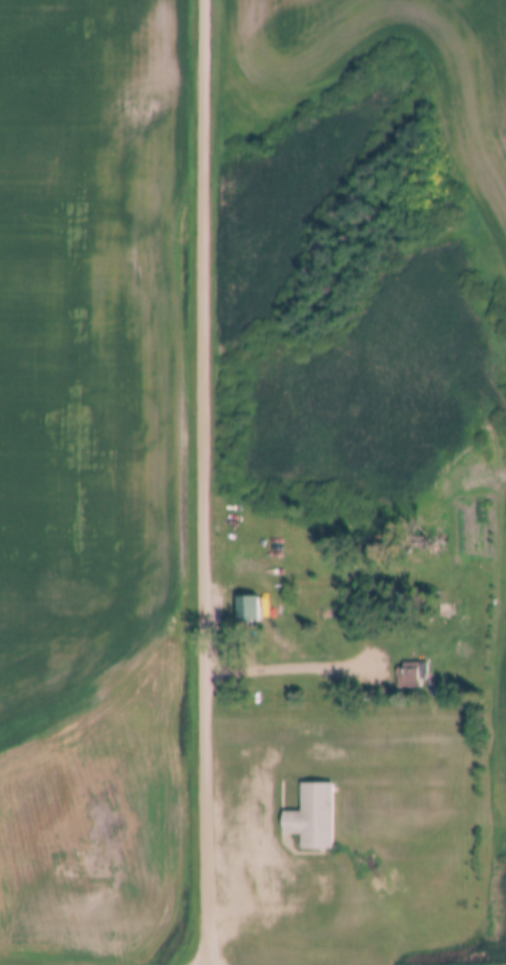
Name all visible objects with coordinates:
road: (203, 482)
building: (248, 609)
road: (297, 664)
building: (313, 816)
road: (270, 819)

